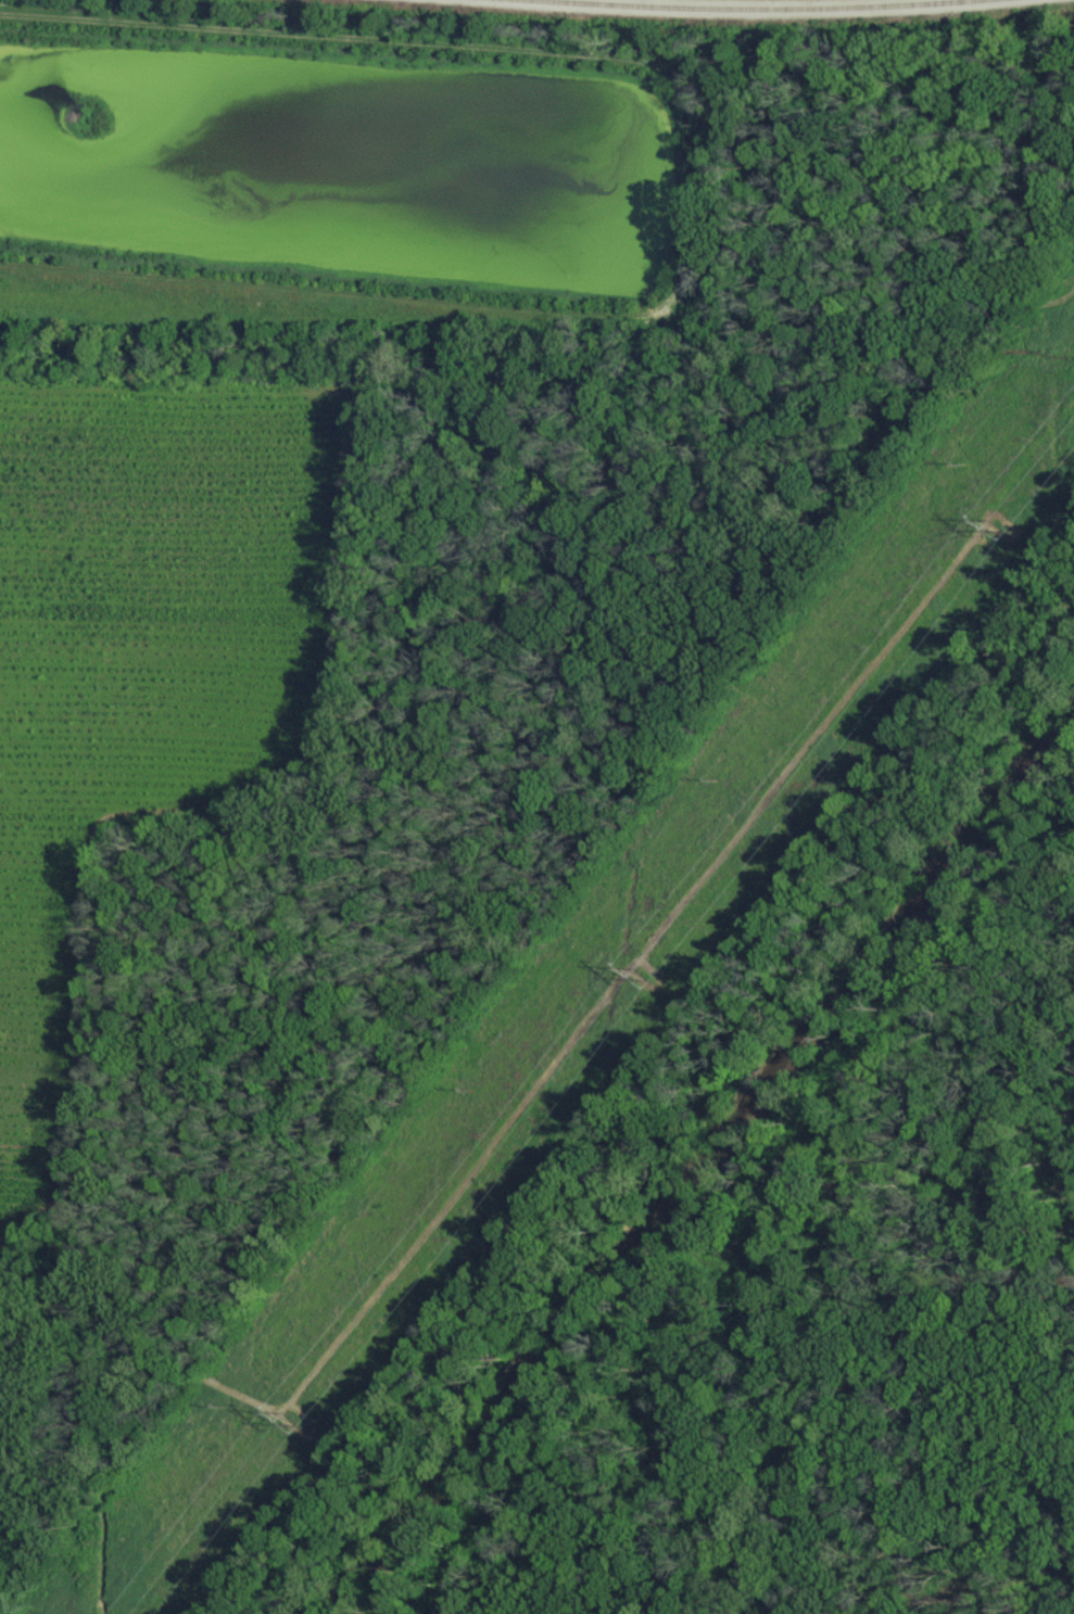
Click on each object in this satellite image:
railway: (750, 9)
power tower: (996, 528)
power tower: (648, 971)
power tower: (295, 1421)

